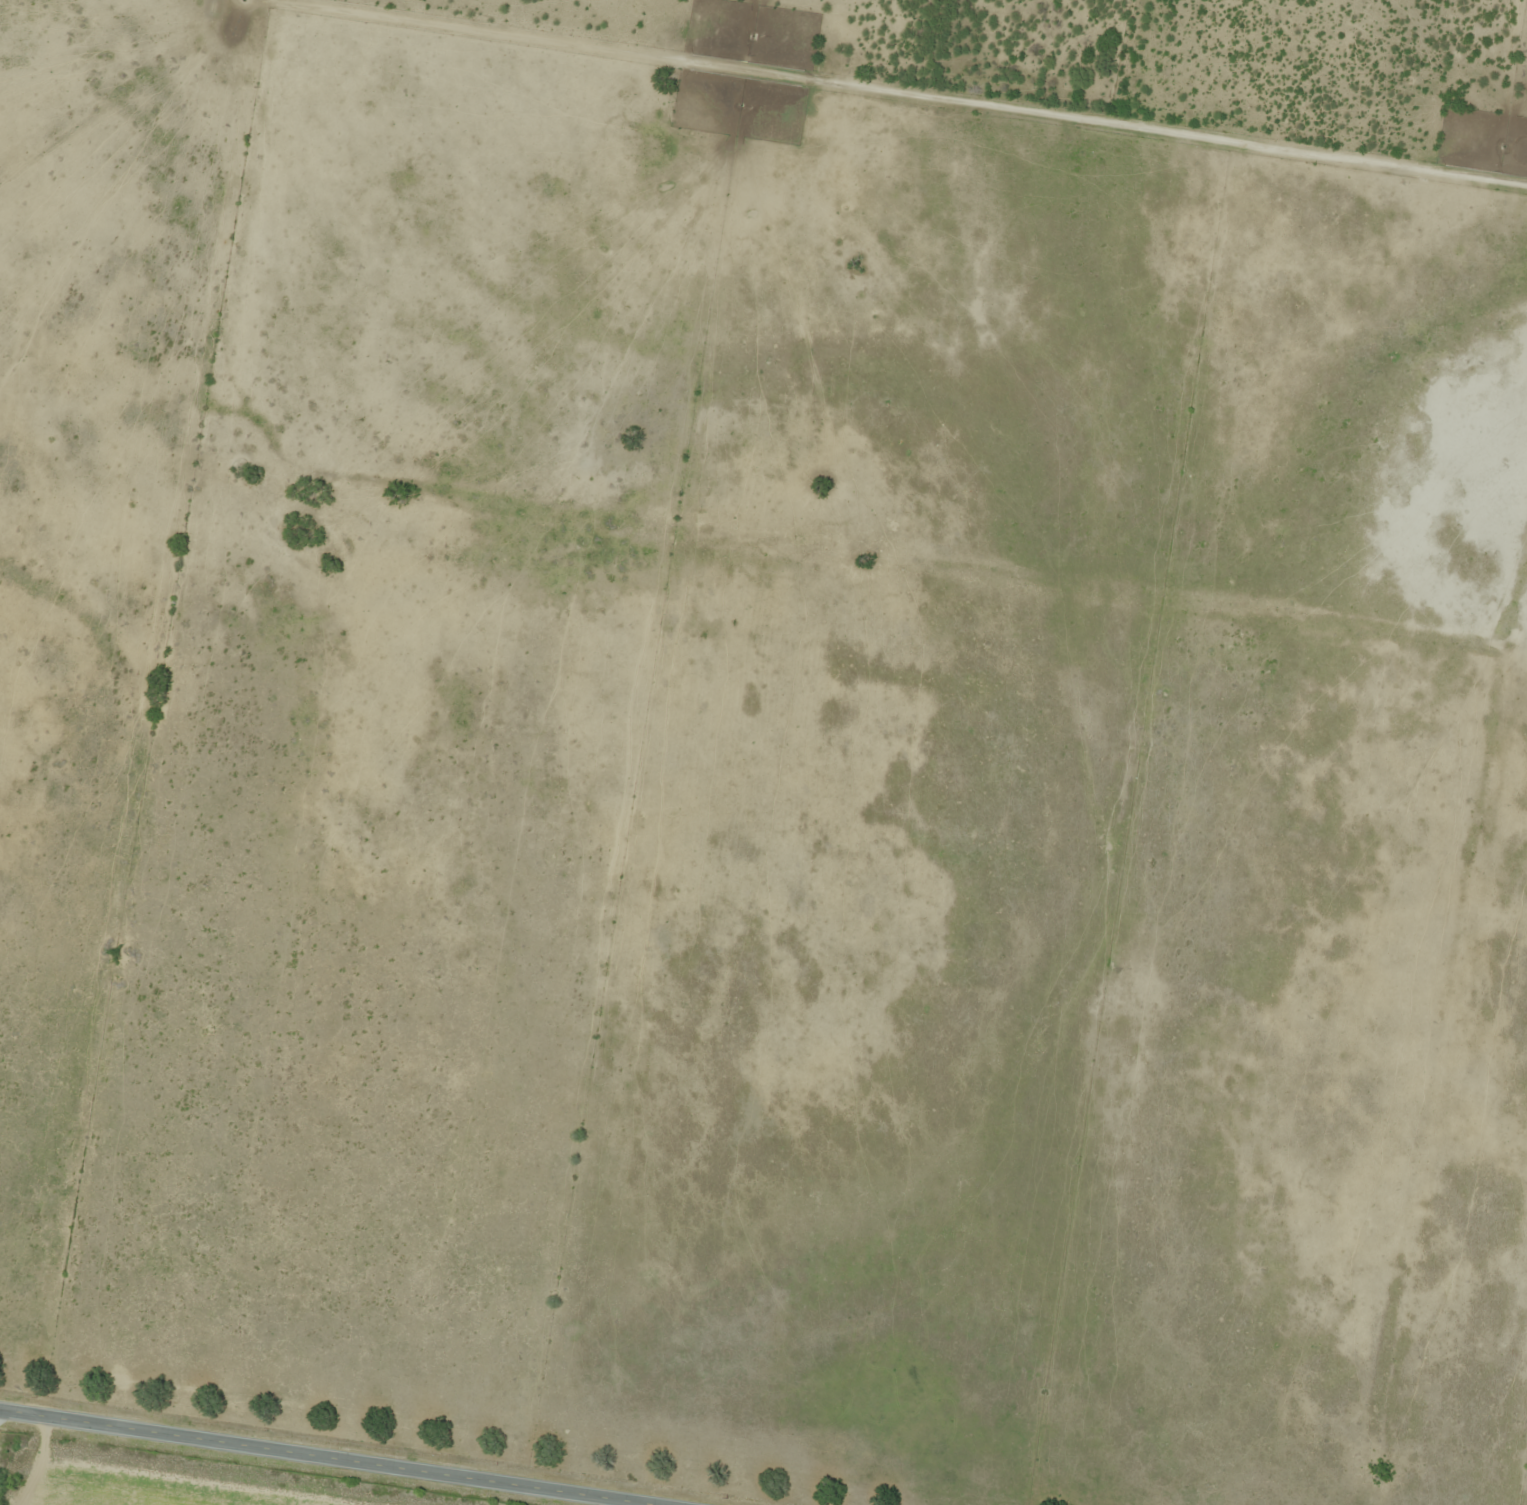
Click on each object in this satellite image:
road: (315, 1459)
road: (40, 1462)

